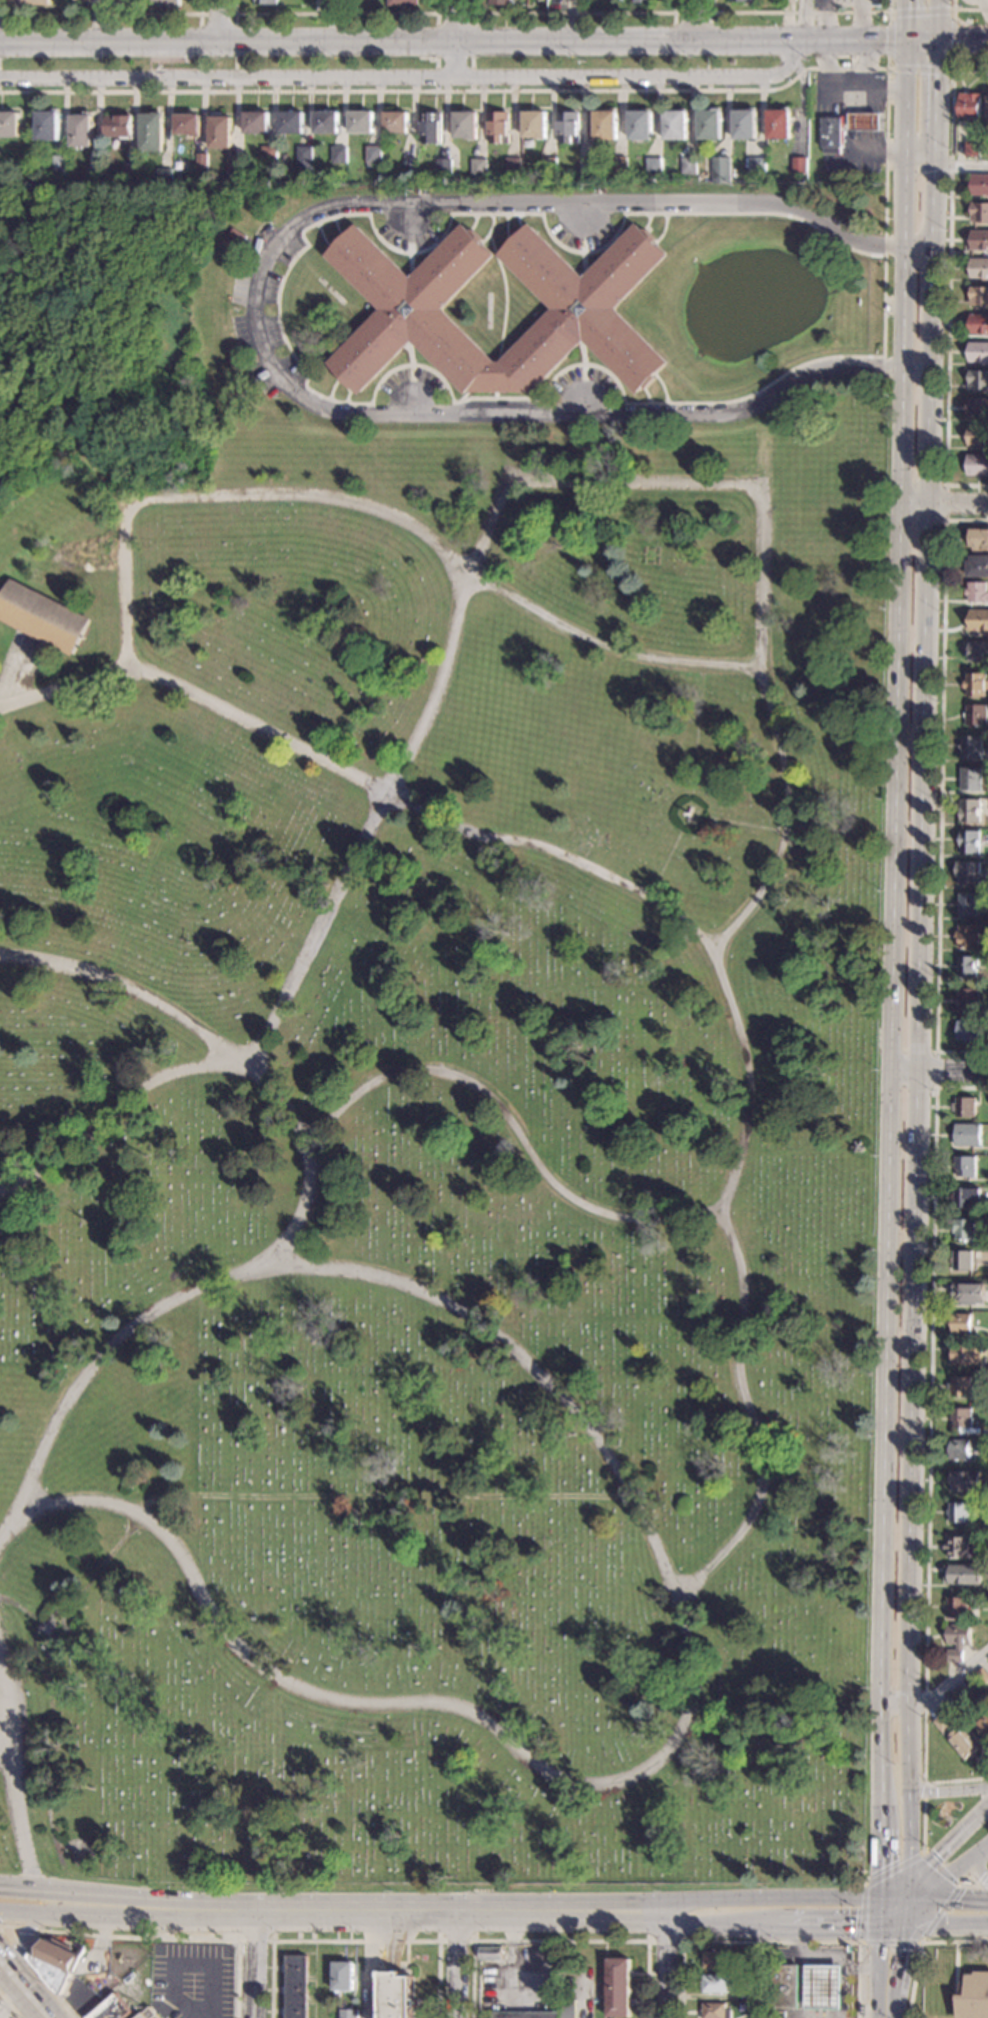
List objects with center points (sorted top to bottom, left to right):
building: (79, 0)
building: (641, 1)
building: (739, 1)
building: (34, 2)
building: (266, 2)
building: (402, 2)
building: (502, 2)
building: (165, 3)
traffic signals: (904, 8)
road: (965, 9)
road: (799, 12)
road: (335, 13)
road: (453, 13)
road: (571, 13)
road: (691, 13)
road: (106, 14)
road: (216, 14)
road: (693, 20)
road: (99, 21)
road: (220, 21)
road: (334, 21)
road: (570, 21)
road: (802, 21)
road: (903, 21)
road: (929, 21)
road: (457, 39)
road: (849, 42)
traffic signals: (882, 42)
road: (916, 42)
road: (397, 44)
traffic signals: (956, 44)
road: (958, 44)
building: (730, 62)
building: (846, 64)
road: (952, 68)
building: (957, 68)
traffic signals: (929, 75)
road: (407, 79)
road: (592, 90)
road: (929, 90)
building: (969, 105)
building: (987, 116)
building: (254, 122)
building: (290, 122)
building: (324, 122)
building: (359, 122)
building: (394, 122)
building: (864, 122)
building: (186, 124)
building: (534, 124)
building: (8, 125)
building: (464, 125)
building: (709, 125)
building: (743, 125)
building: (778, 125)
building: (46, 126)
building: (118, 126)
building: (603, 126)
building: (639, 126)
building: (674, 126)
building: (497, 127)
building: (429, 128)
building: (567, 128)
building: (80, 131)
building: (150, 132)
building: (219, 132)
building: (831, 134)
building: (972, 149)
building: (987, 149)
building: (337, 154)
building: (267, 155)
building: (372, 156)
building: (302, 159)
building: (201, 161)
road: (958, 164)
building: (511, 165)
building: (59, 166)
building: (547, 166)
building: (652, 166)
building: (687, 166)
building: (799, 166)
building: (442, 167)
building: (477, 167)
building: (583, 167)
building: (233, 168)
building: (617, 168)
building: (754, 169)
building: (720, 171)
building: (93, 176)
building: (129, 177)
building: (163, 177)
building: (979, 186)
road: (671, 213)
building: (979, 213)
building: (234, 239)
building: (978, 241)
building: (978, 268)
road: (947, 282)
road: (504, 286)
building: (978, 296)
building: (886, 307)
road: (258, 308)
building: (978, 324)
building: (410, 325)
building: (977, 352)
building: (978, 380)
road: (301, 384)
road: (756, 392)
building: (977, 409)
building: (977, 437)
building: (976, 465)
road: (552, 486)
road: (943, 500)
road: (944, 503)
road: (378, 511)
building: (978, 539)
building: (977, 566)
building: (976, 592)
building: (41, 616)
building: (977, 620)
building: (978, 651)
building: (975, 684)
building: (975, 715)
building: (970, 747)
building: (970, 779)
road: (939, 792)
building: (969, 811)
building: (969, 841)
building: (969, 873)
building: (968, 905)
road: (892, 934)
building: (966, 936)
building: (967, 966)
road: (128, 992)
building: (968, 1000)
road: (734, 1005)
road: (920, 1008)
building: (967, 1030)
road: (935, 1070)
road: (938, 1070)
road: (157, 1081)
building: (964, 1107)
park: (428, 1123)
building: (967, 1135)
building: (857, 1147)
building: (964, 1166)
building: (965, 1197)
building: (963, 1229)
building: (961, 1261)
building: (968, 1293)
building: (961, 1323)
building: (964, 1355)
building: (959, 1387)
road: (744, 1412)
building: (960, 1418)
road: (929, 1442)
building: (958, 1449)
building: (963, 1481)
road: (373, 1497)
building: (957, 1512)
road: (6, 1525)
building: (955, 1547)
building: (962, 1574)
road: (671, 1598)
building: (956, 1607)
building: (956, 1641)
building: (982, 1676)
road: (950, 1682)
building: (961, 1694)
building: (980, 1723)
building: (954, 1737)
road: (3, 1747)
road: (12, 1787)
road: (950, 1790)
road: (923, 1792)
road: (922, 1828)
road: (949, 1841)
road: (880, 1867)
road: (987, 1873)
road: (950, 1878)
traffic signals: (911, 1879)
building: (968, 1883)
road: (978, 1885)
road: (967, 1887)
road: (24, 1890)
road: (895, 1894)
road: (911, 1894)
road: (153, 1900)
traffic signals: (879, 1909)
road: (887, 1909)
road: (904, 1909)
traffic signals: (912, 1909)
road: (949, 1910)
road: (128, 1911)
road: (567, 1913)
road: (18, 1929)
road: (473, 1932)
road: (16, 1933)
road: (23, 1933)
road: (121, 1937)
road: (904, 1939)
road: (879, 1940)
road: (254, 1941)
road: (354, 1941)
road: (560, 1941)
road: (664, 1941)
road: (771, 1942)
road: (886, 1942)
road: (12, 1943)
road: (919, 1946)
building: (489, 1954)
flagpole: (422, 1956)
building: (56, 1960)
building: (714, 1960)
building: (761, 1960)
road: (255, 1963)
road: (367, 1965)
road: (665, 1965)
road: (458, 1966)
road: (955, 1969)
building: (342, 1977)
parking lot: (191, 1980)
road: (895, 1981)
road: (24, 1983)
building: (716, 1985)
building: (295, 1987)
building: (784, 1987)
building: (823, 1987)
road: (203, 1988)
building: (618, 1988)
road: (881, 1994)
road: (22, 1995)
building: (759, 1995)
building: (395, 1996)
building: (973, 1996)
road: (891, 2004)
road: (9, 2006)
building: (111, 2009)
building: (567, 2009)
building: (715, 2011)
building: (861, 2011)
building: (761, 2013)
building: (149, 2014)
building: (348, 2014)
building: (526, 2015)

